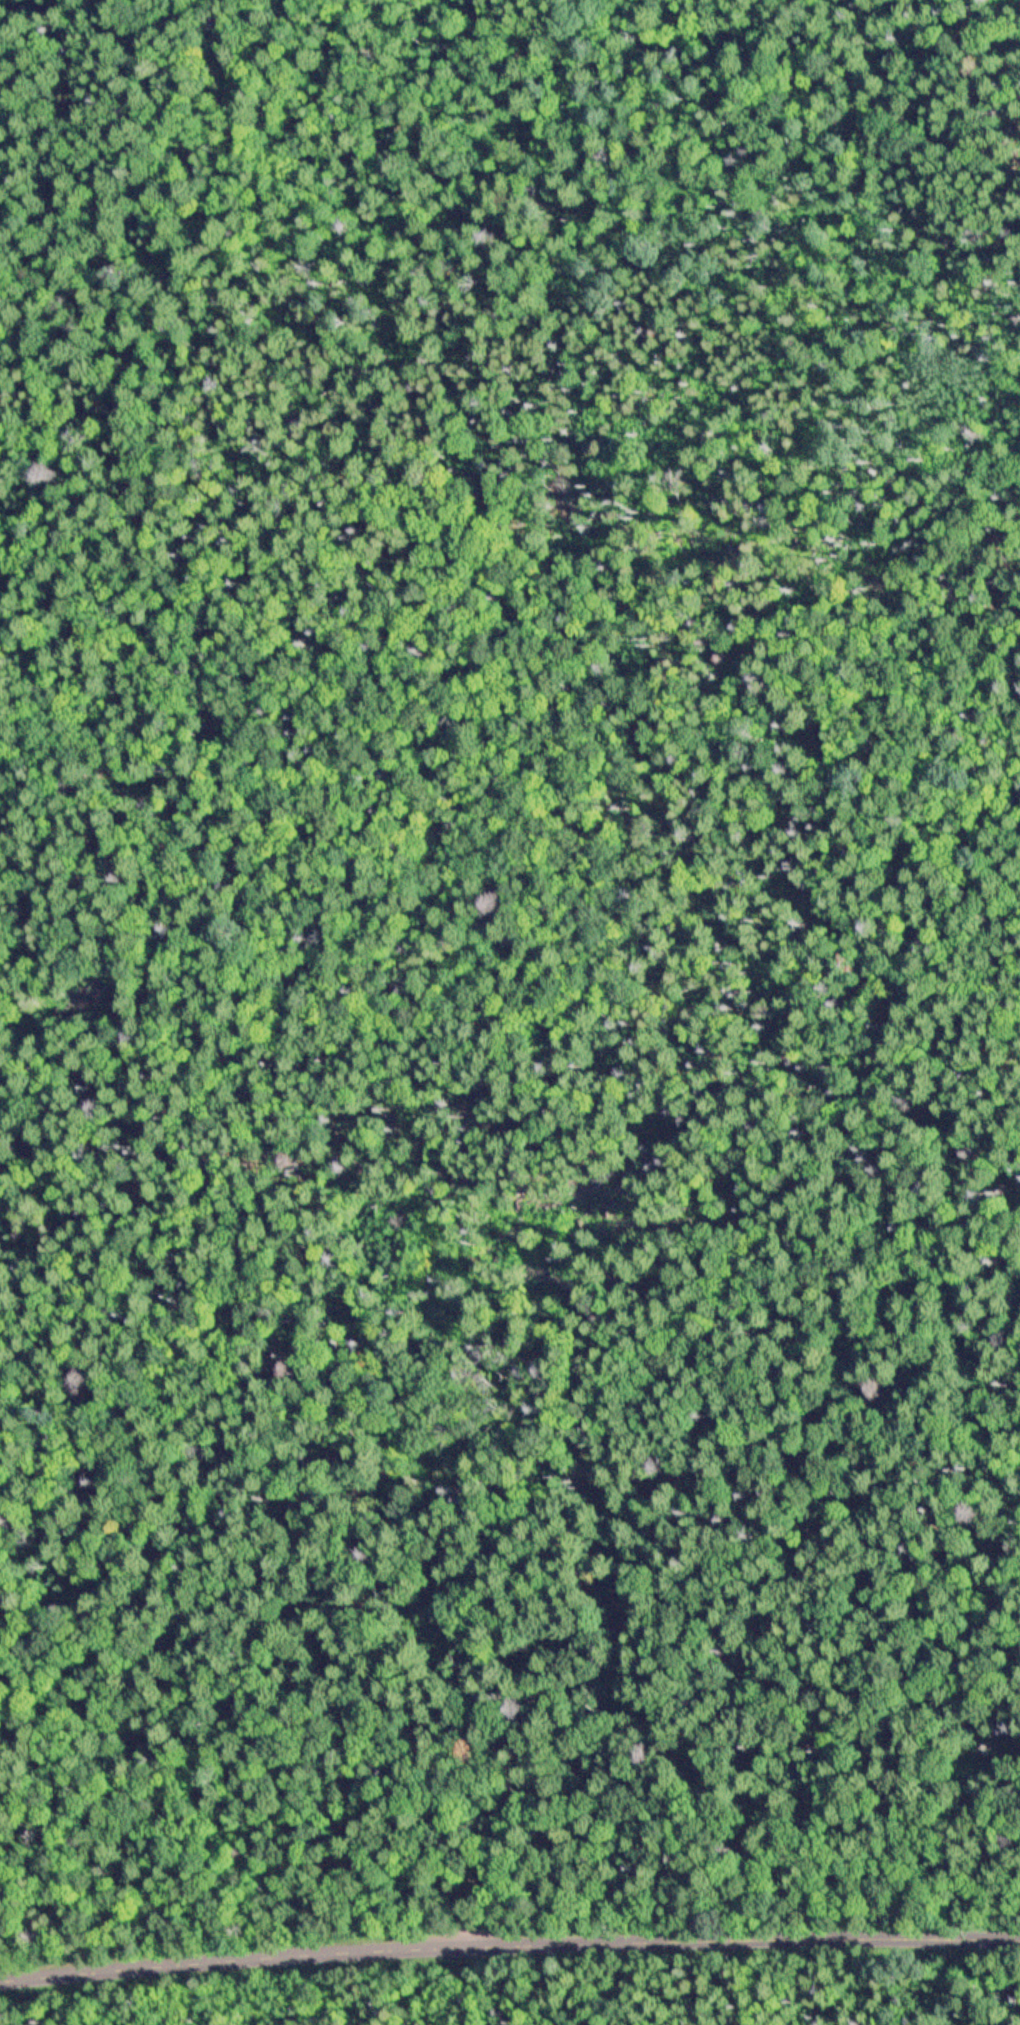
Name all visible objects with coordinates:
road: (509, 1948)

